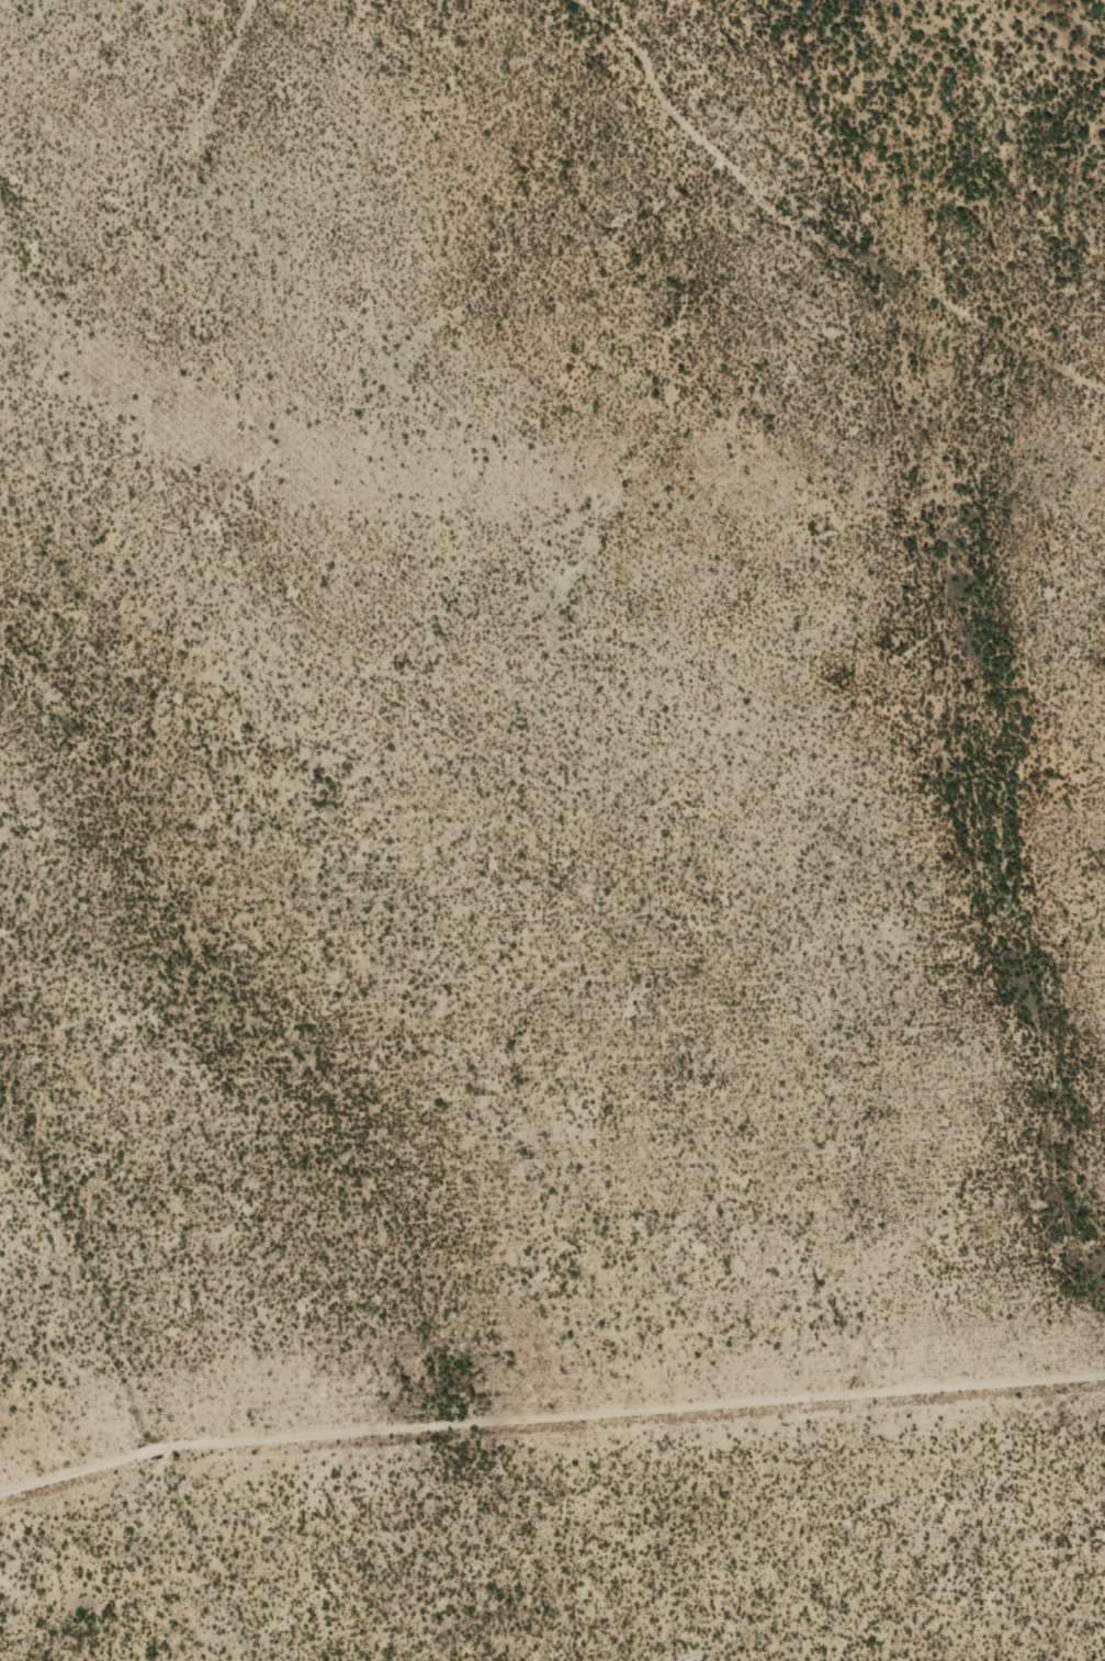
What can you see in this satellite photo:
road: (809, 239)
road: (128, 1387)
road: (548, 1409)

